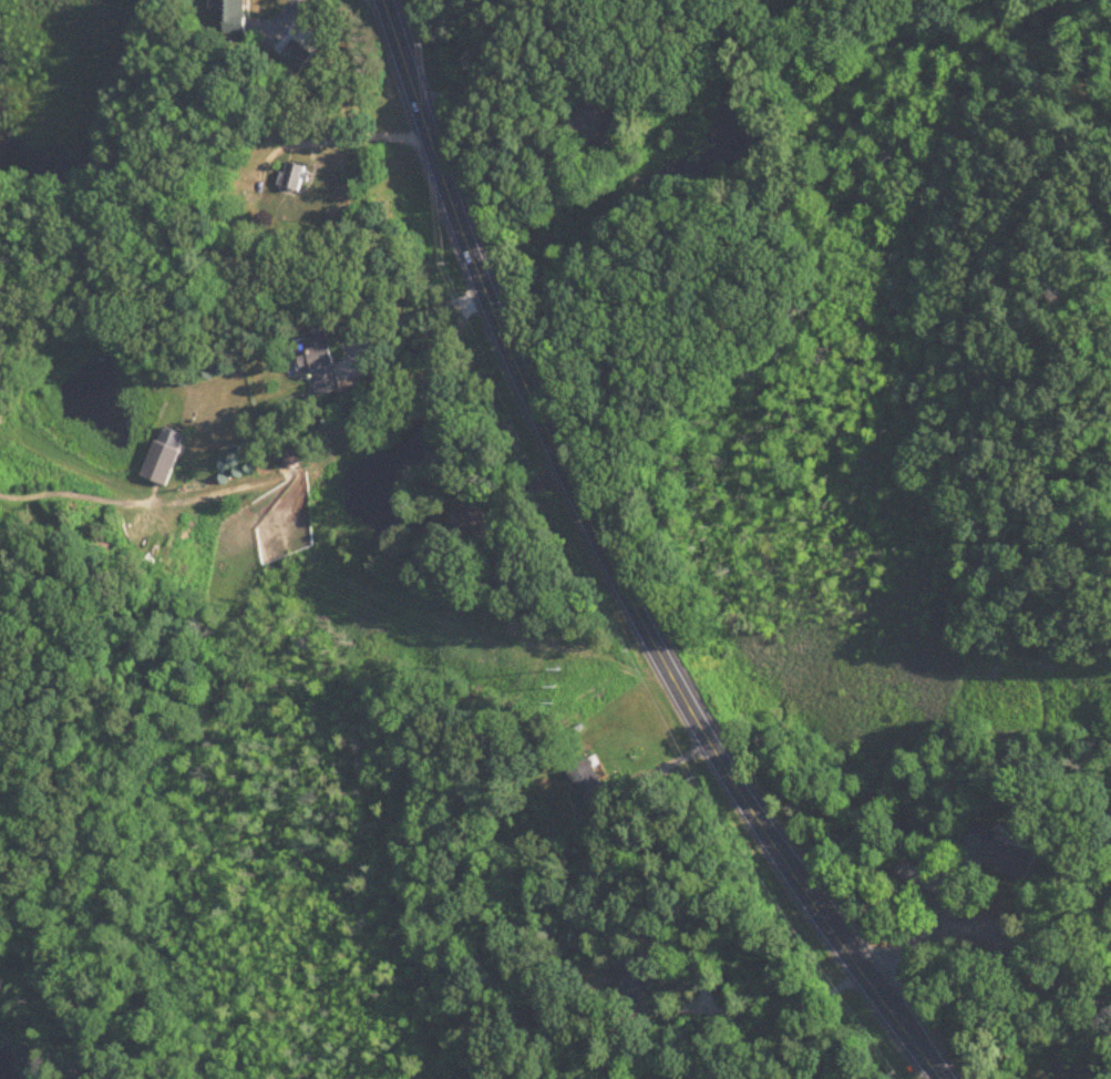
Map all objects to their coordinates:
building: (232, 16)
road: (279, 19)
building: (606, 116)
road: (494, 123)
road: (364, 136)
building: (294, 177)
road: (410, 318)
building: (321, 361)
road: (422, 372)
building: (165, 458)
building: (294, 460)
building: (470, 521)
road: (614, 564)
building: (500, 573)
power tower: (557, 677)
building: (589, 787)
building: (1001, 854)
building: (911, 873)
road: (1001, 938)
building: (631, 975)
building: (553, 1008)
road: (760, 1015)
road: (1110, 1029)

